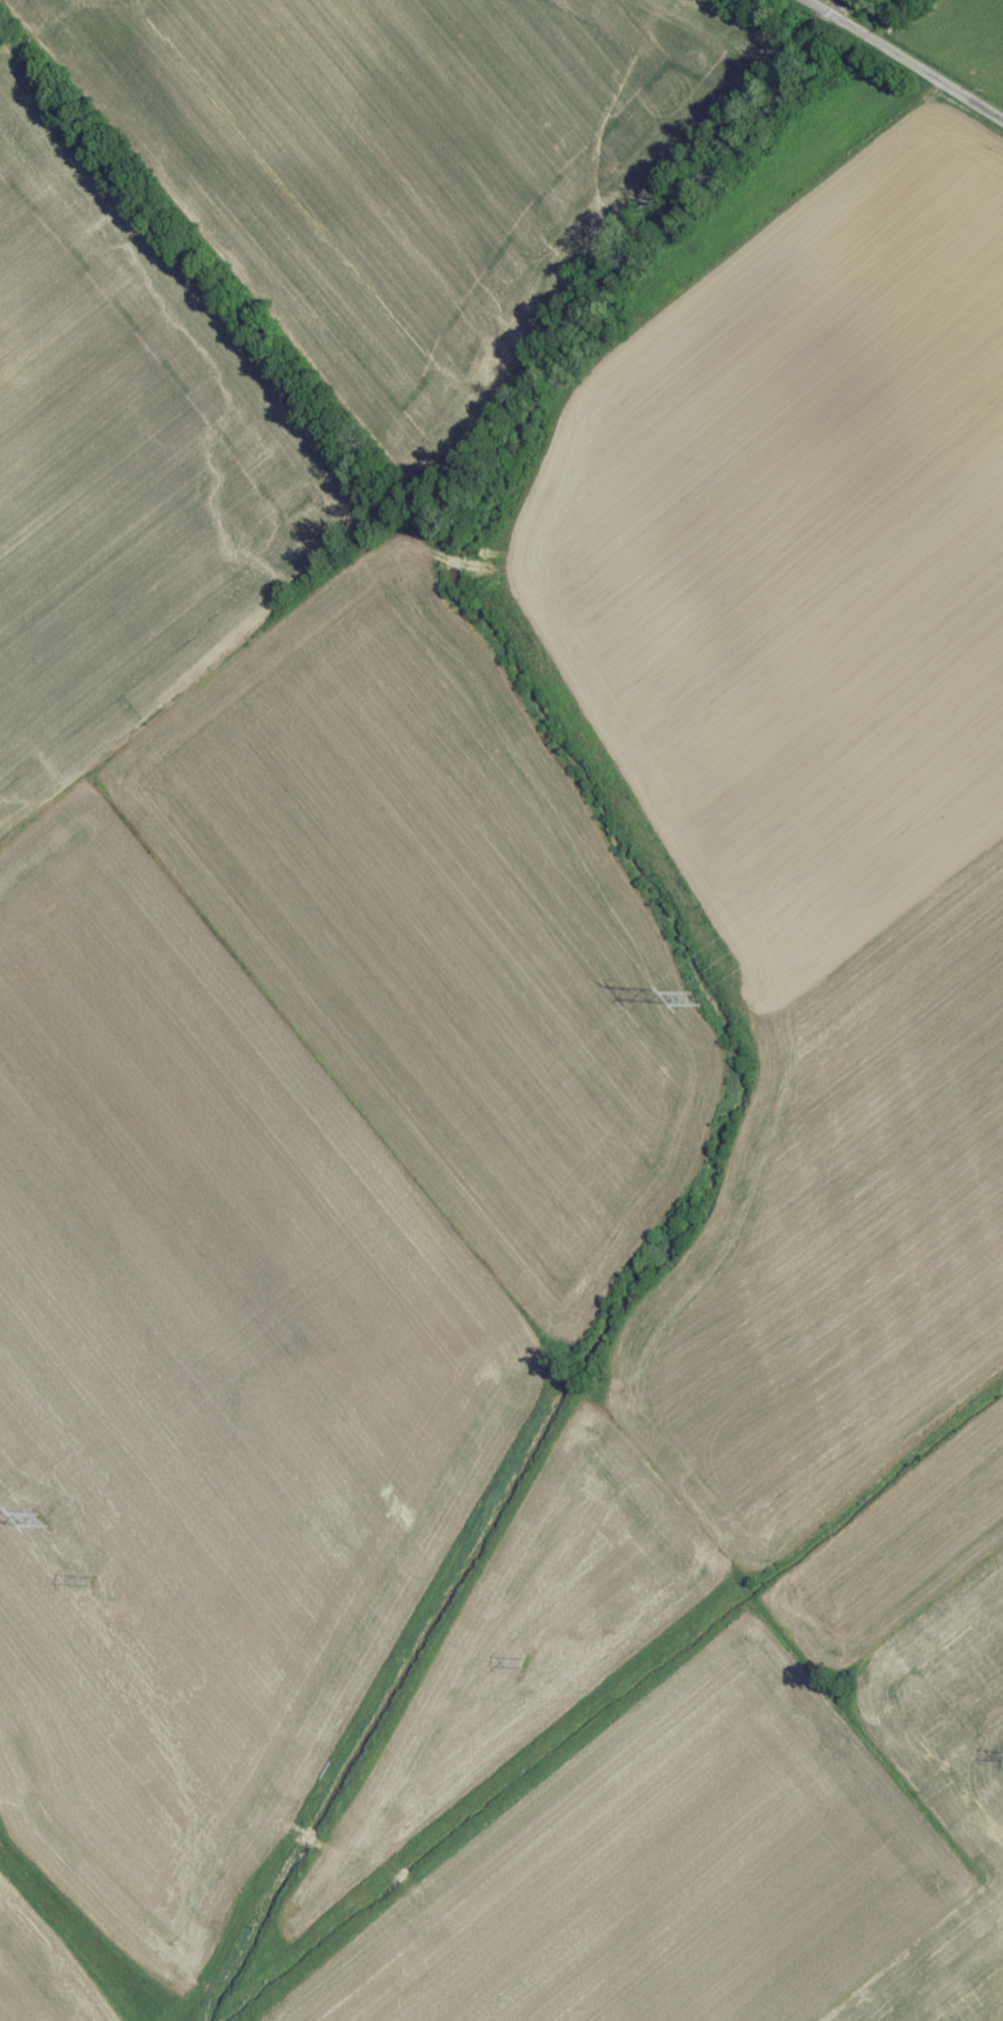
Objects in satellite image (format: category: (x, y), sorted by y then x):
road: (901, 63)
power tower: (696, 1006)
power tower: (45, 1523)

